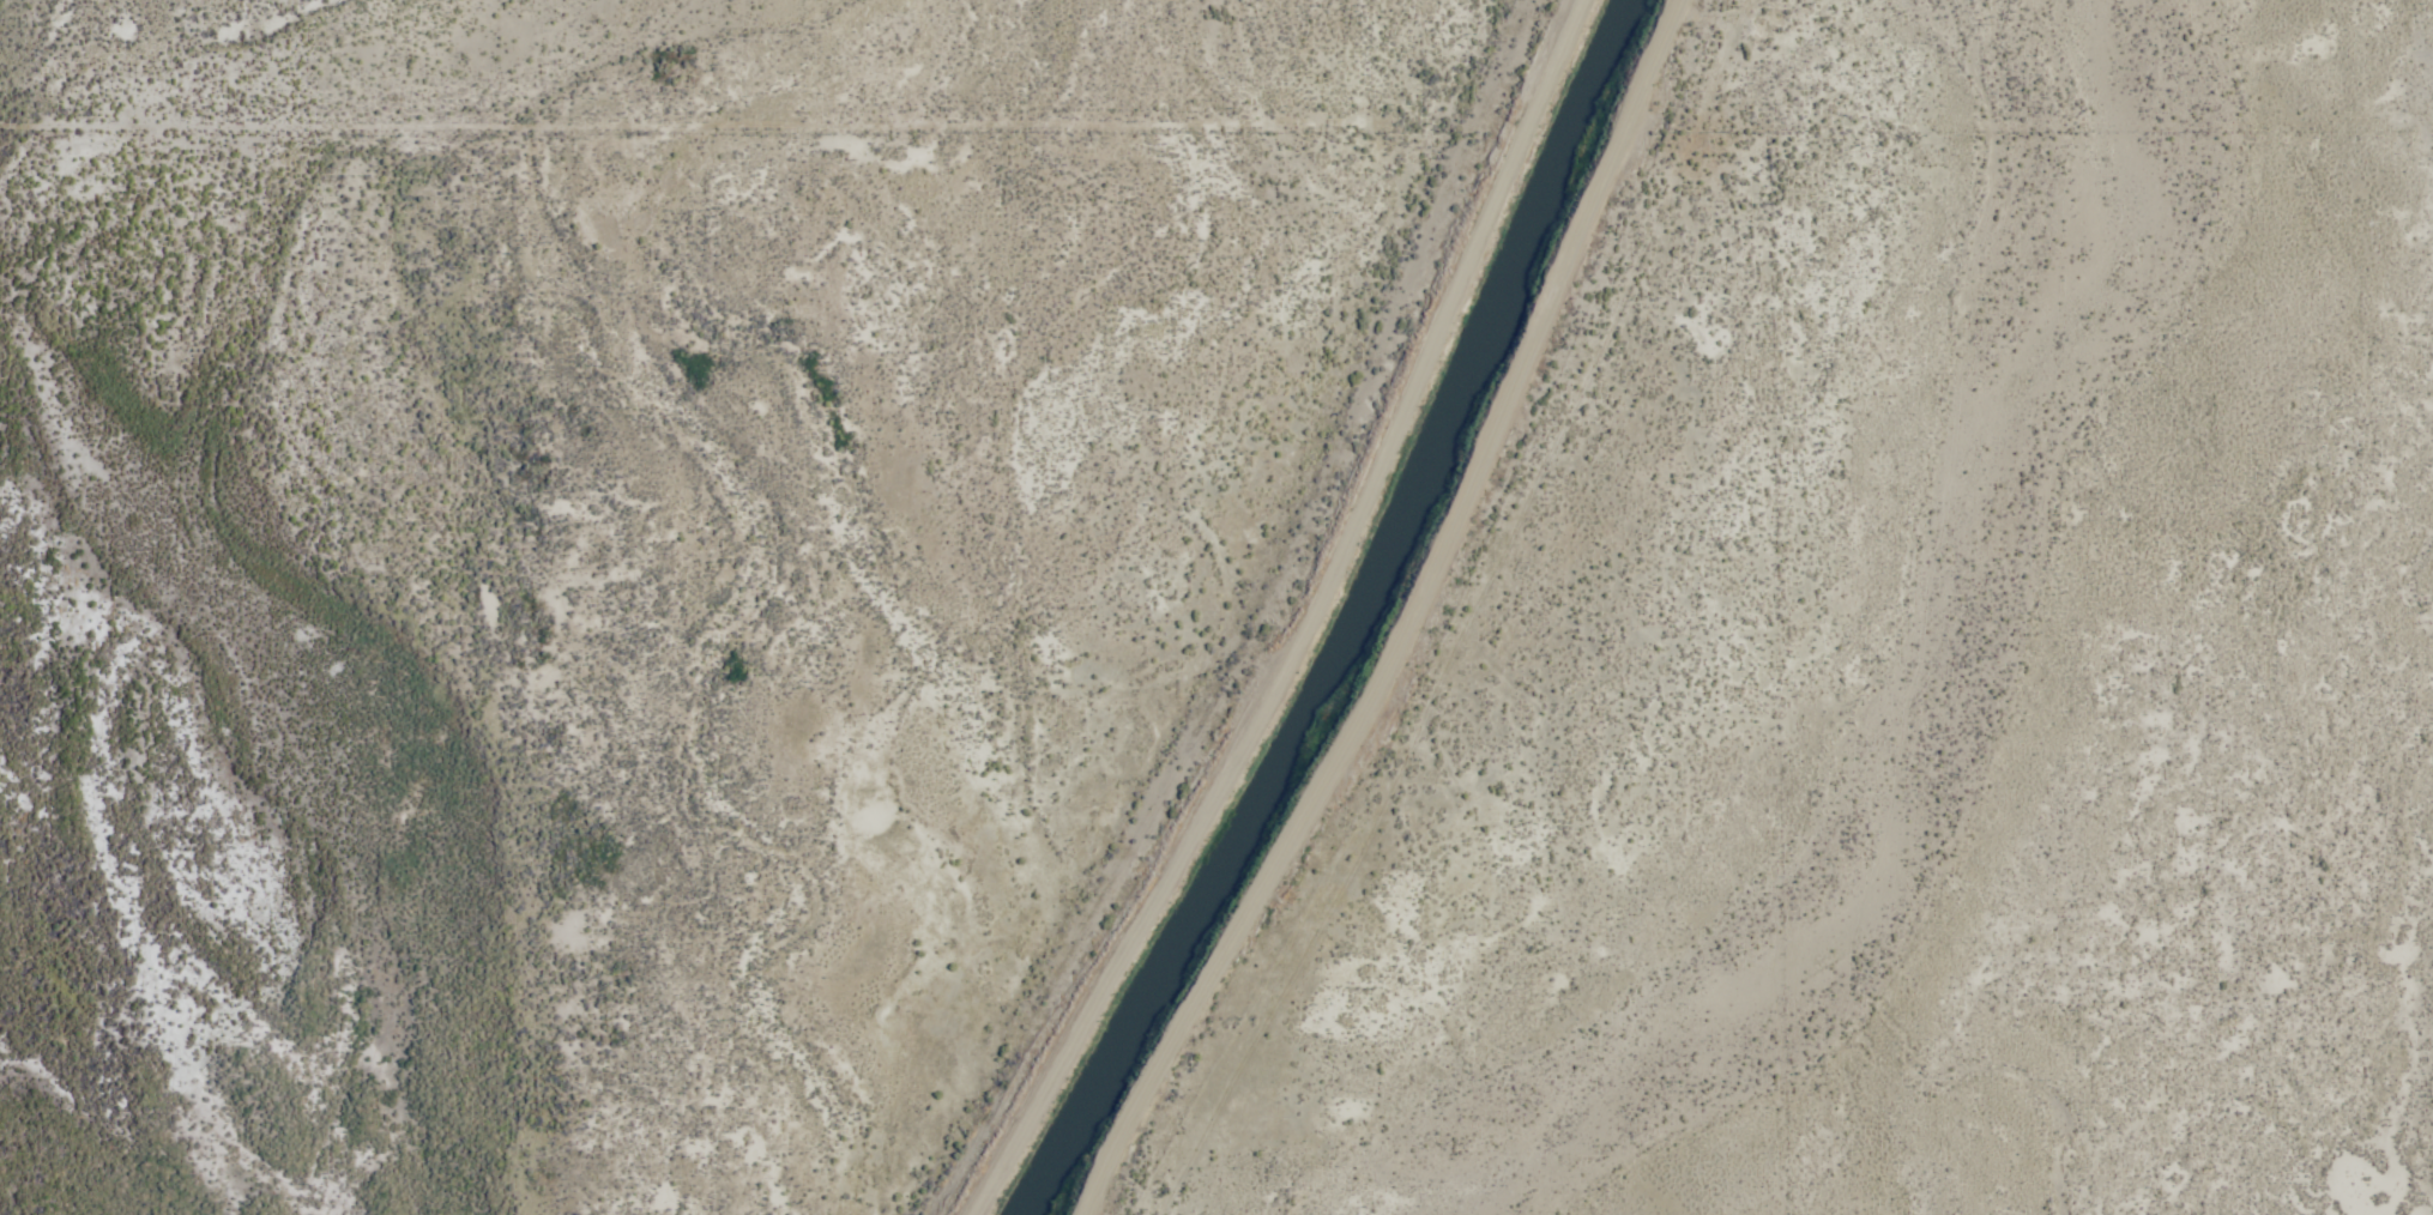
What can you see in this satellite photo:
road: (1412, 622)
road: (1323, 624)

